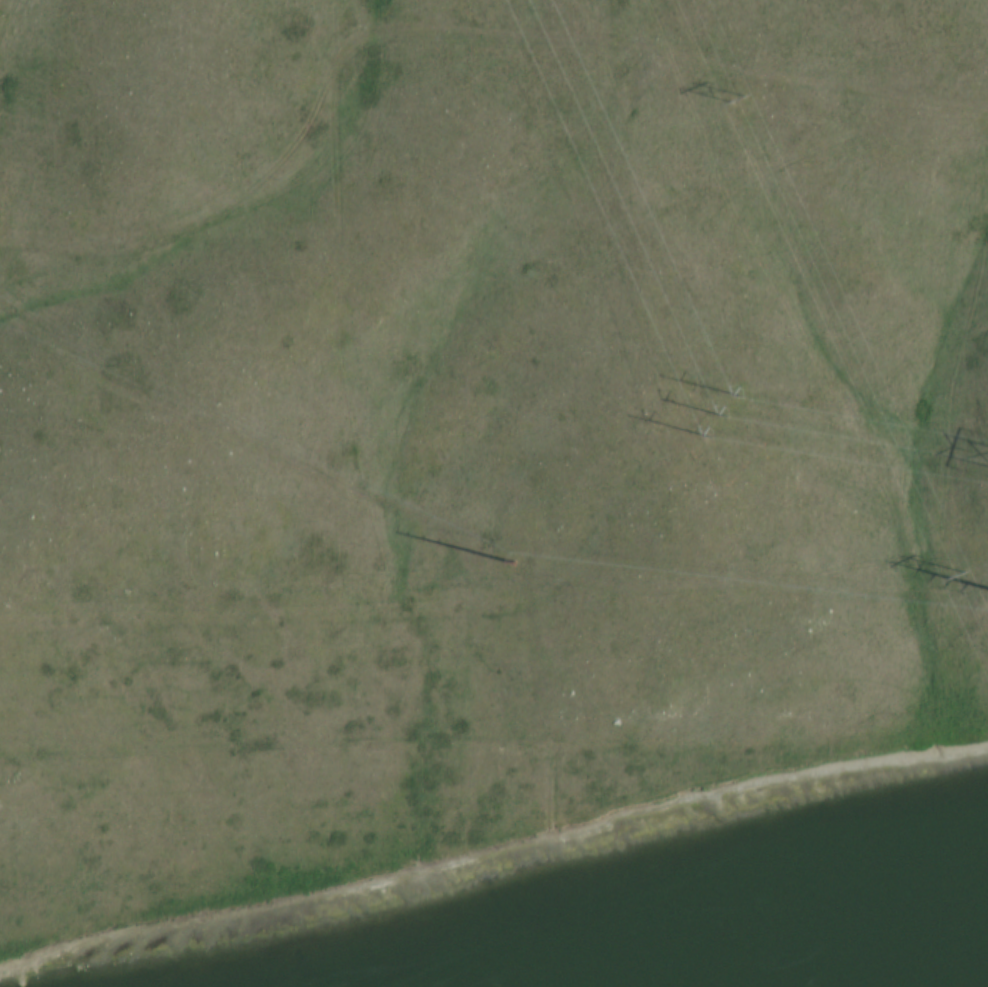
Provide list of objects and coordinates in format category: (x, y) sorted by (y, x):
power tower: (736, 105)
power tower: (511, 567)
power tower: (953, 583)

